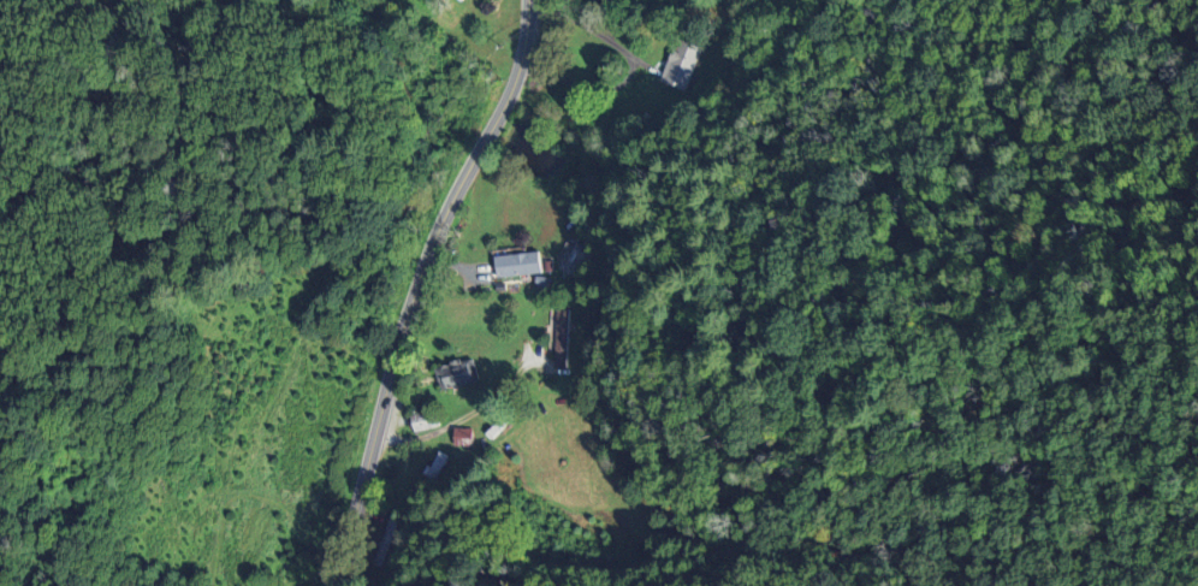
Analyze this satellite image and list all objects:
building: (682, 65)
road: (630, 66)
building: (642, 100)
building: (570, 258)
building: (516, 264)
road: (416, 285)
building: (456, 375)
road: (458, 422)
building: (421, 424)
building: (461, 436)

